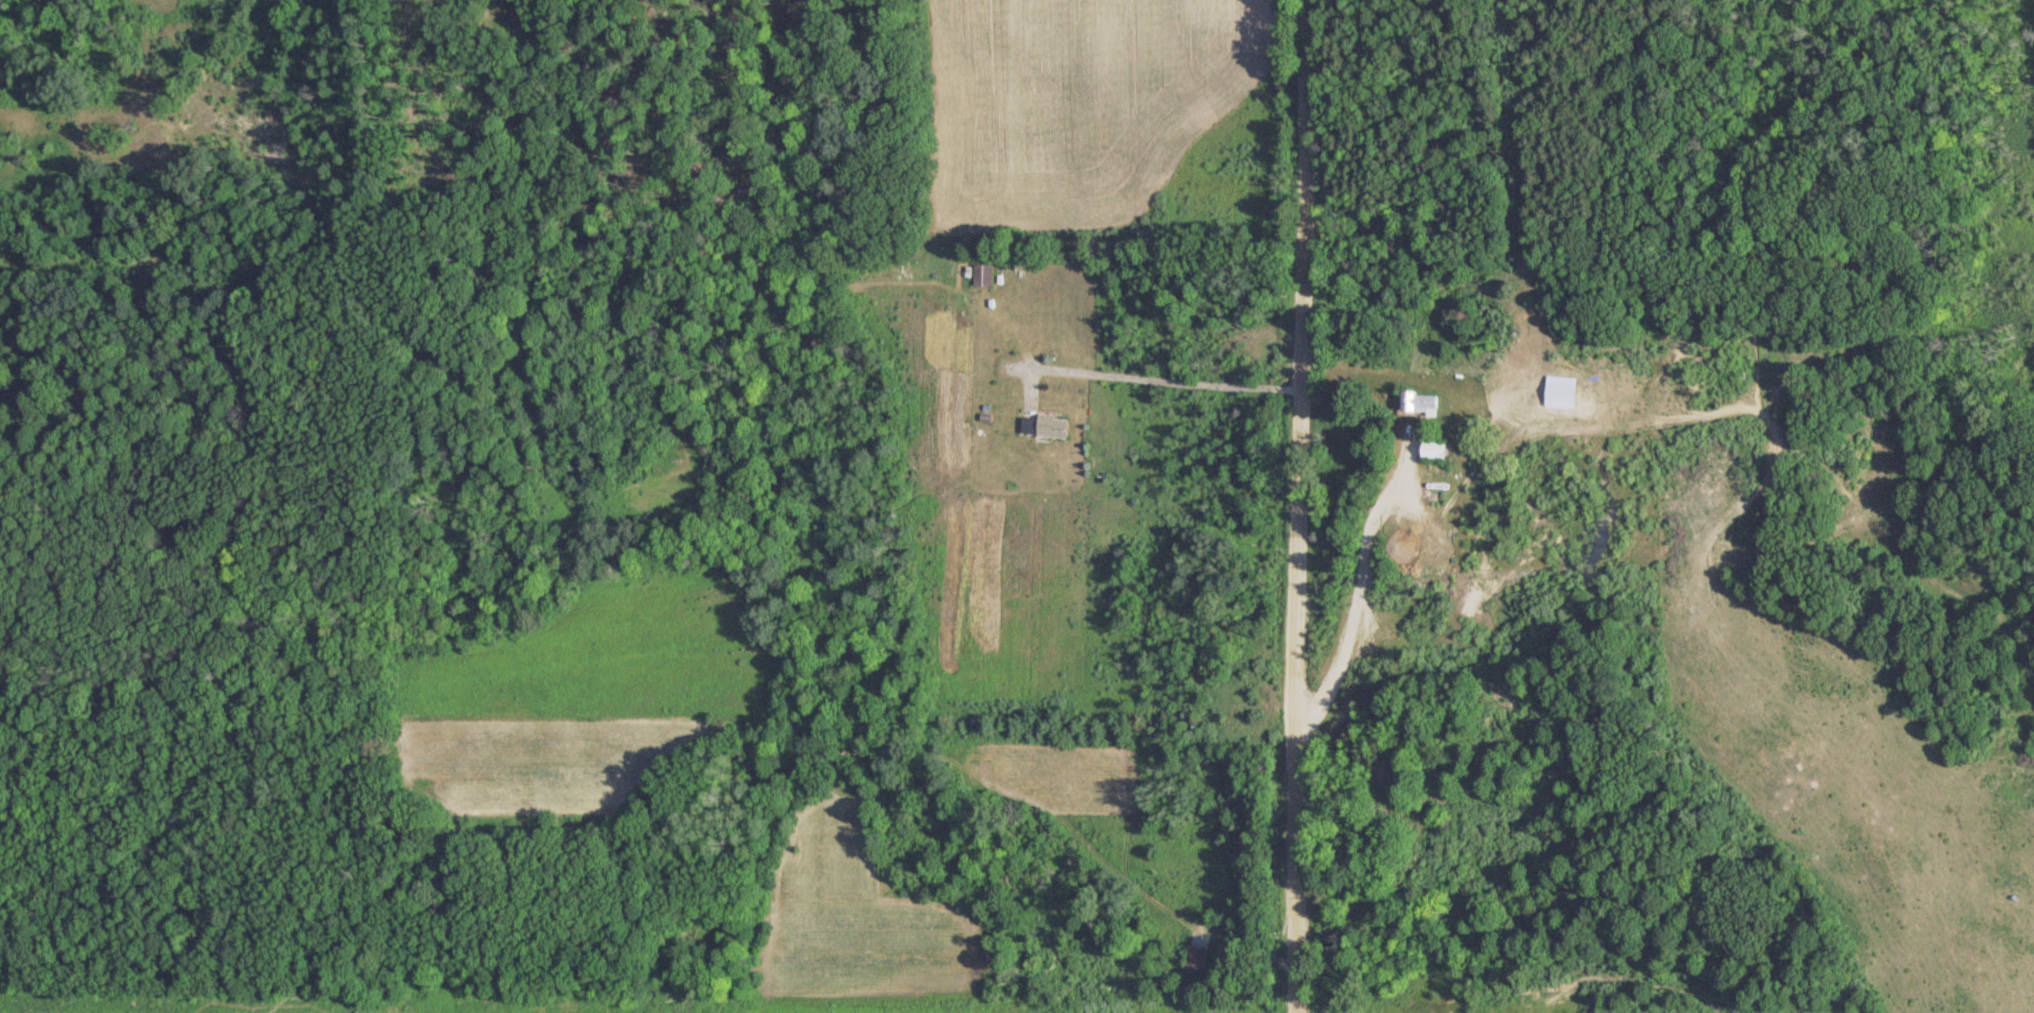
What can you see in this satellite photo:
building: (981, 275)
building: (1414, 403)
building: (1041, 427)
building: (1426, 450)
road: (1285, 506)

